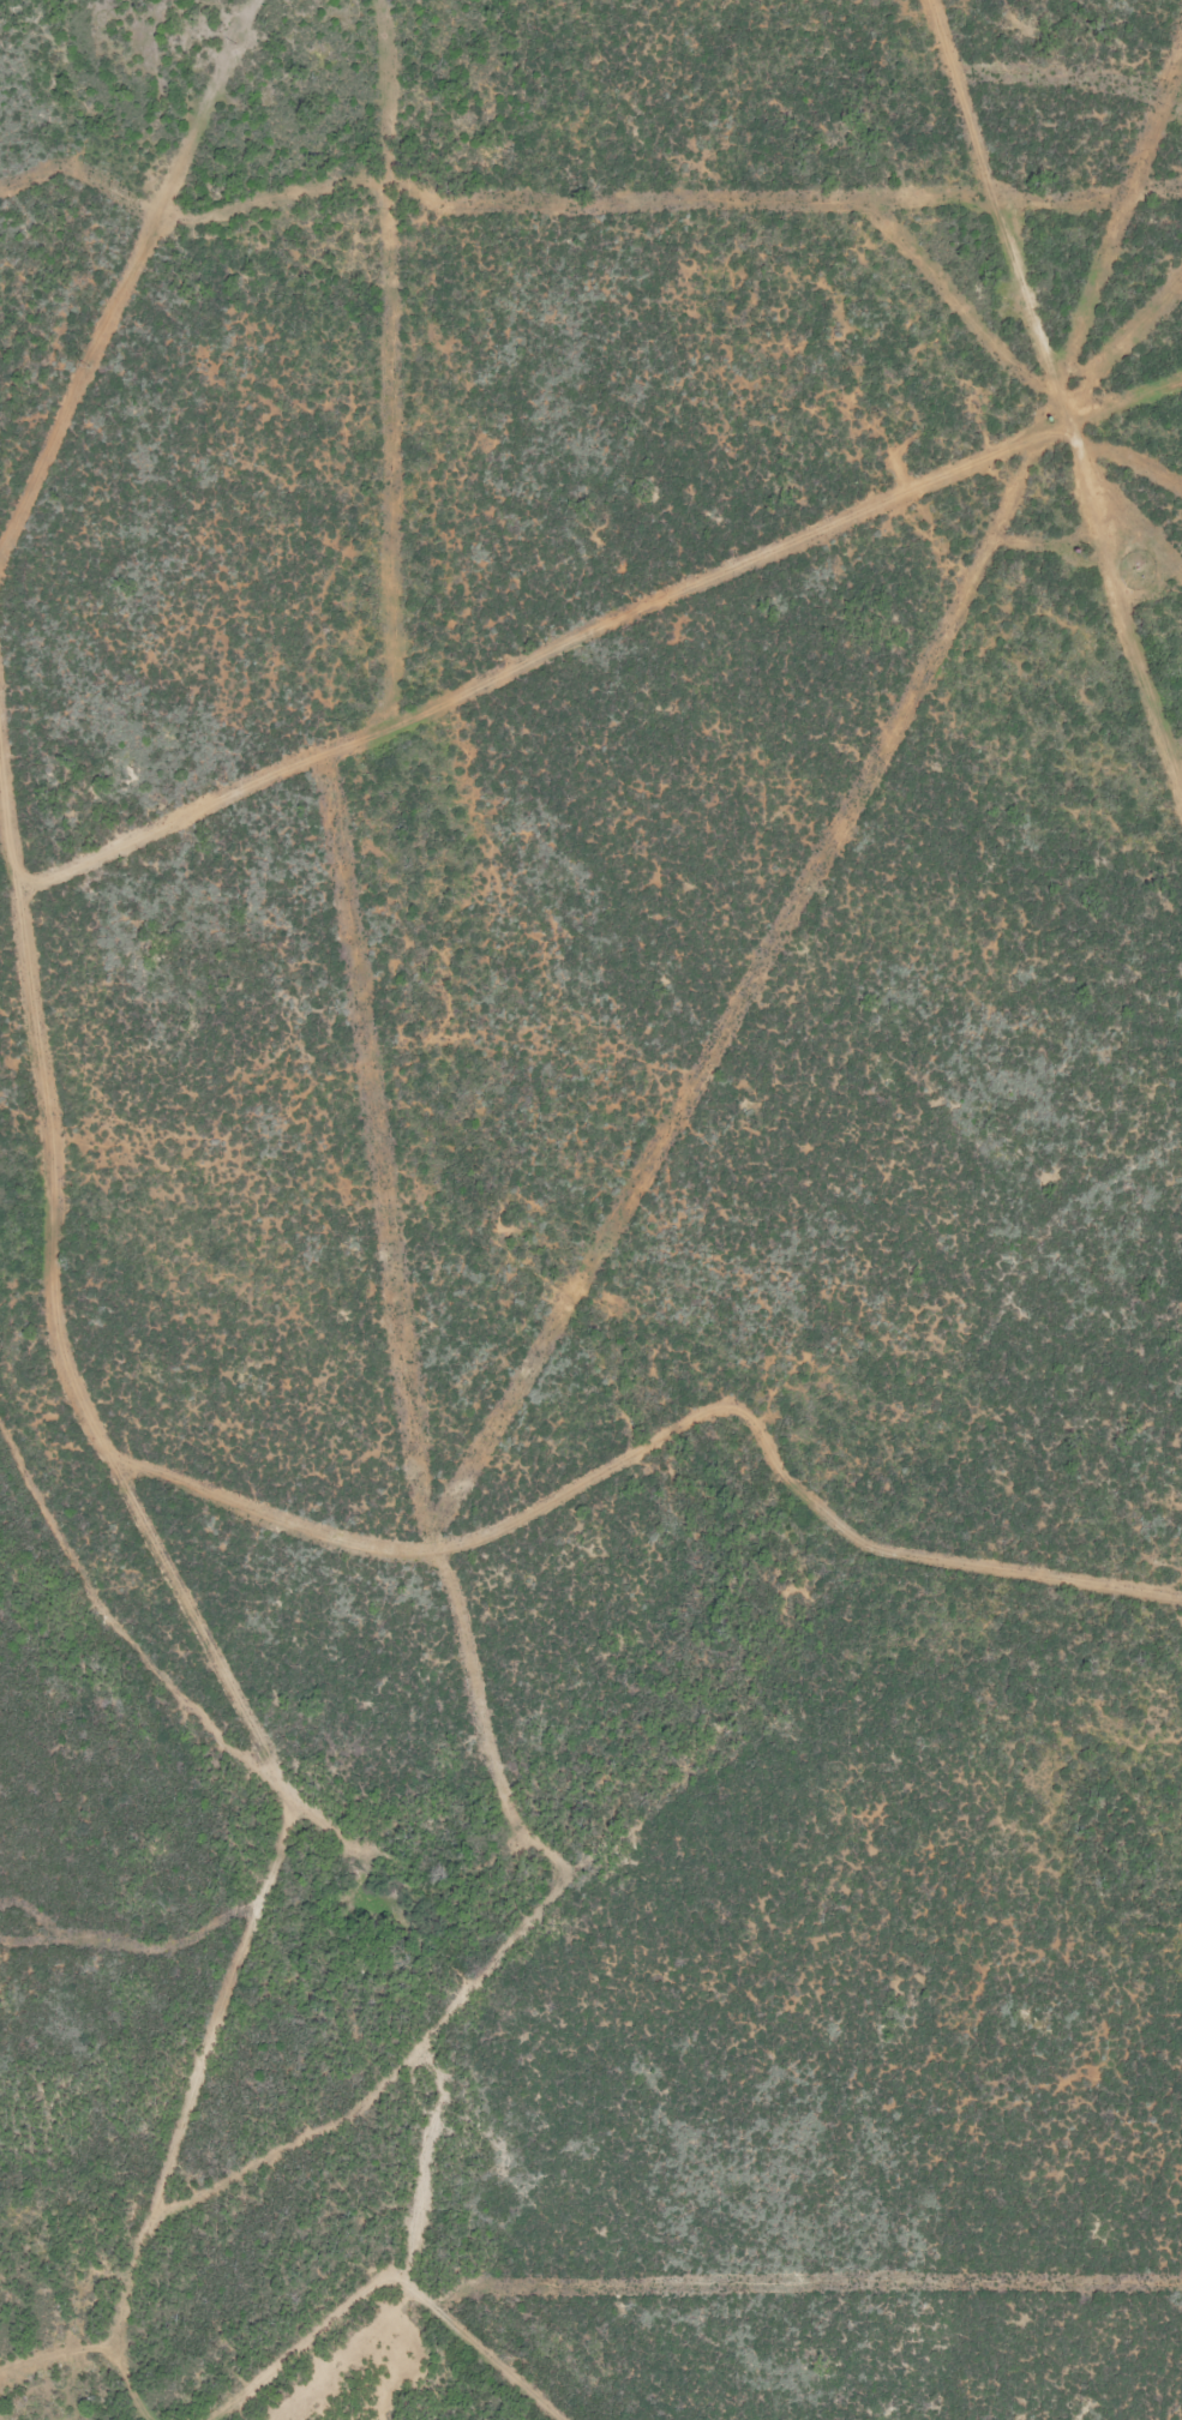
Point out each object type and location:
road: (179, 1607)

